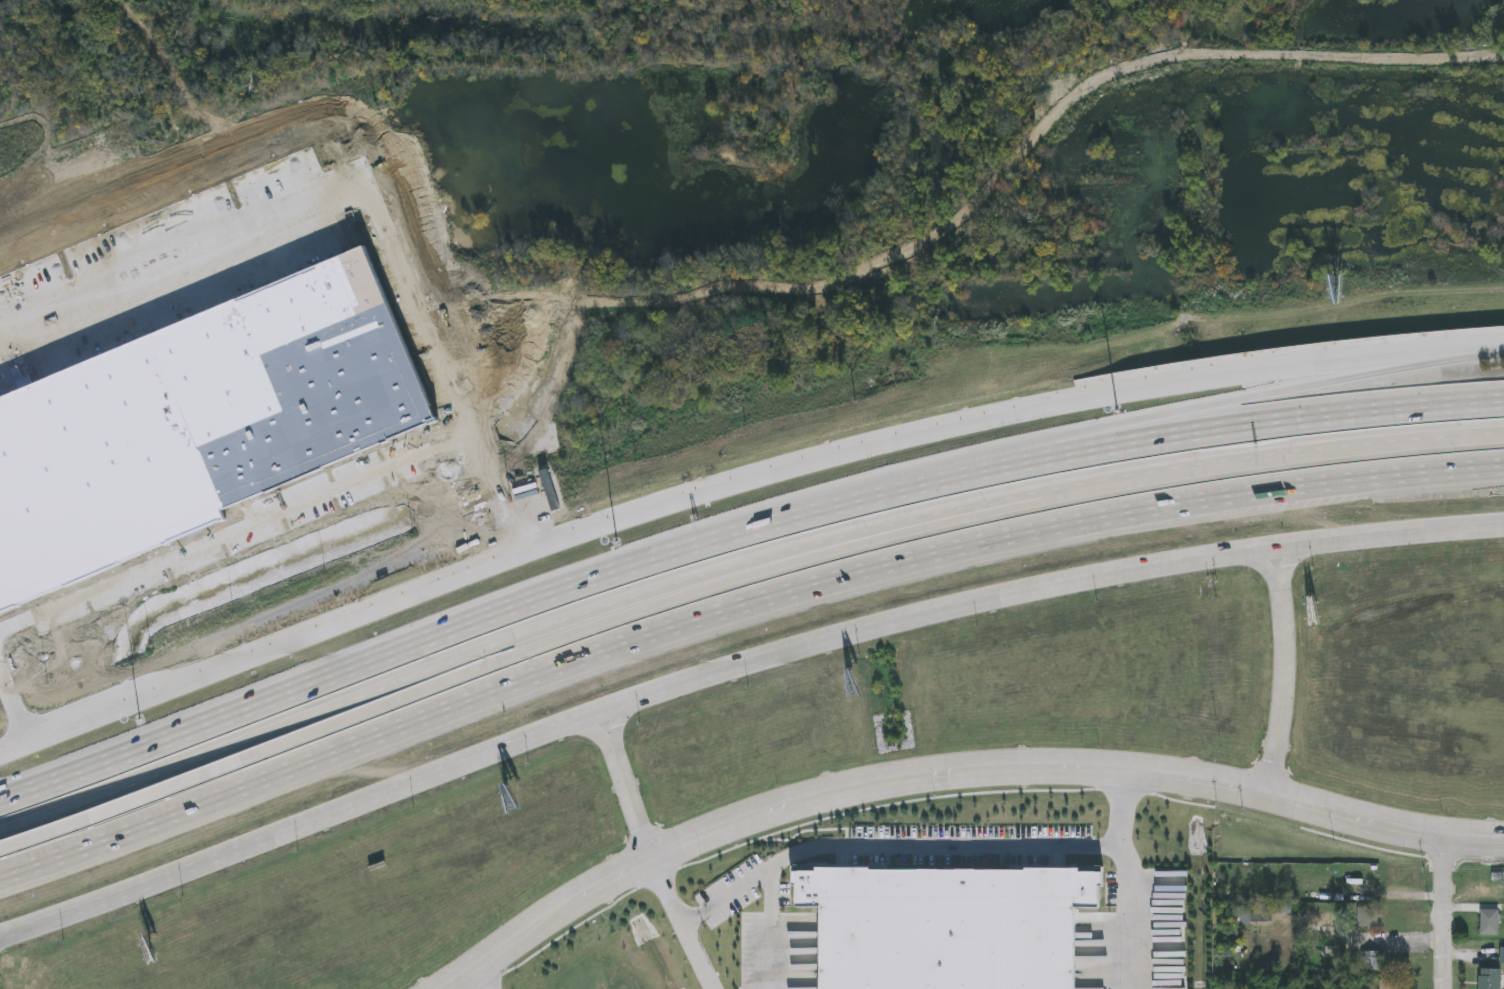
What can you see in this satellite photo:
road: (1324, 383)
road: (1102, 438)
road: (732, 473)
road: (990, 508)
road: (734, 534)
road: (1287, 562)
road: (1266, 565)
road: (735, 567)
road: (735, 608)
road: (590, 627)
road: (735, 666)
road: (1282, 681)
road: (617, 722)
road: (594, 730)
road: (832, 794)
road: (630, 797)
road: (121, 806)
road: (1386, 816)
road: (979, 847)
road: (771, 880)
building: (1367, 880)
road: (1444, 910)
road: (1128, 916)
building: (1370, 919)
road: (684, 922)
building: (1489, 922)
road: (6, 938)
building: (1501, 955)
building: (1368, 960)
building: (1488, 979)
road: (476, 980)
building: (1387, 985)

